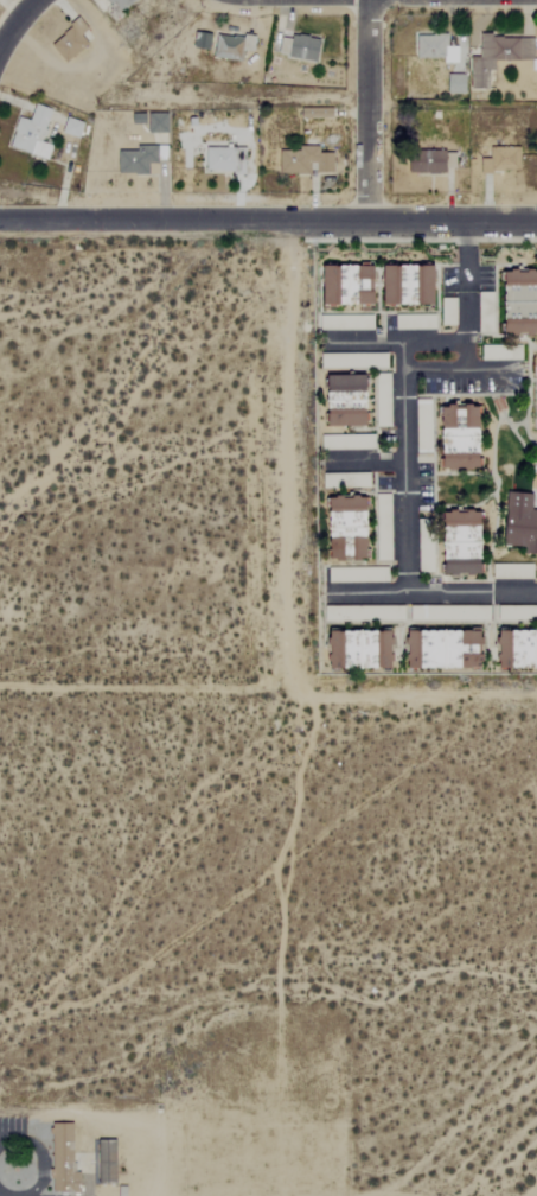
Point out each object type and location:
building: (117, 4)
road: (15, 21)
building: (66, 40)
building: (198, 40)
building: (225, 46)
building: (300, 47)
building: (433, 47)
building: (496, 56)
building: (453, 83)
road: (367, 112)
building: (154, 122)
building: (70, 127)
building: (30, 133)
building: (500, 159)
building: (134, 160)
building: (220, 160)
building: (301, 160)
building: (428, 163)
road: (184, 220)
road: (452, 223)
building: (343, 285)
building: (401, 285)
building: (516, 301)
building: (446, 311)
building: (482, 312)
building: (499, 352)
building: (373, 360)
building: (379, 400)
building: (420, 425)
road: (404, 444)
building: (454, 519)
building: (341, 523)
building: (517, 523)
building: (379, 527)
building: (454, 558)
building: (352, 650)
building: (436, 650)
building: (513, 650)
road: (8, 1138)
building: (65, 1159)
building: (109, 1162)
road: (38, 1166)
road: (7, 1192)

